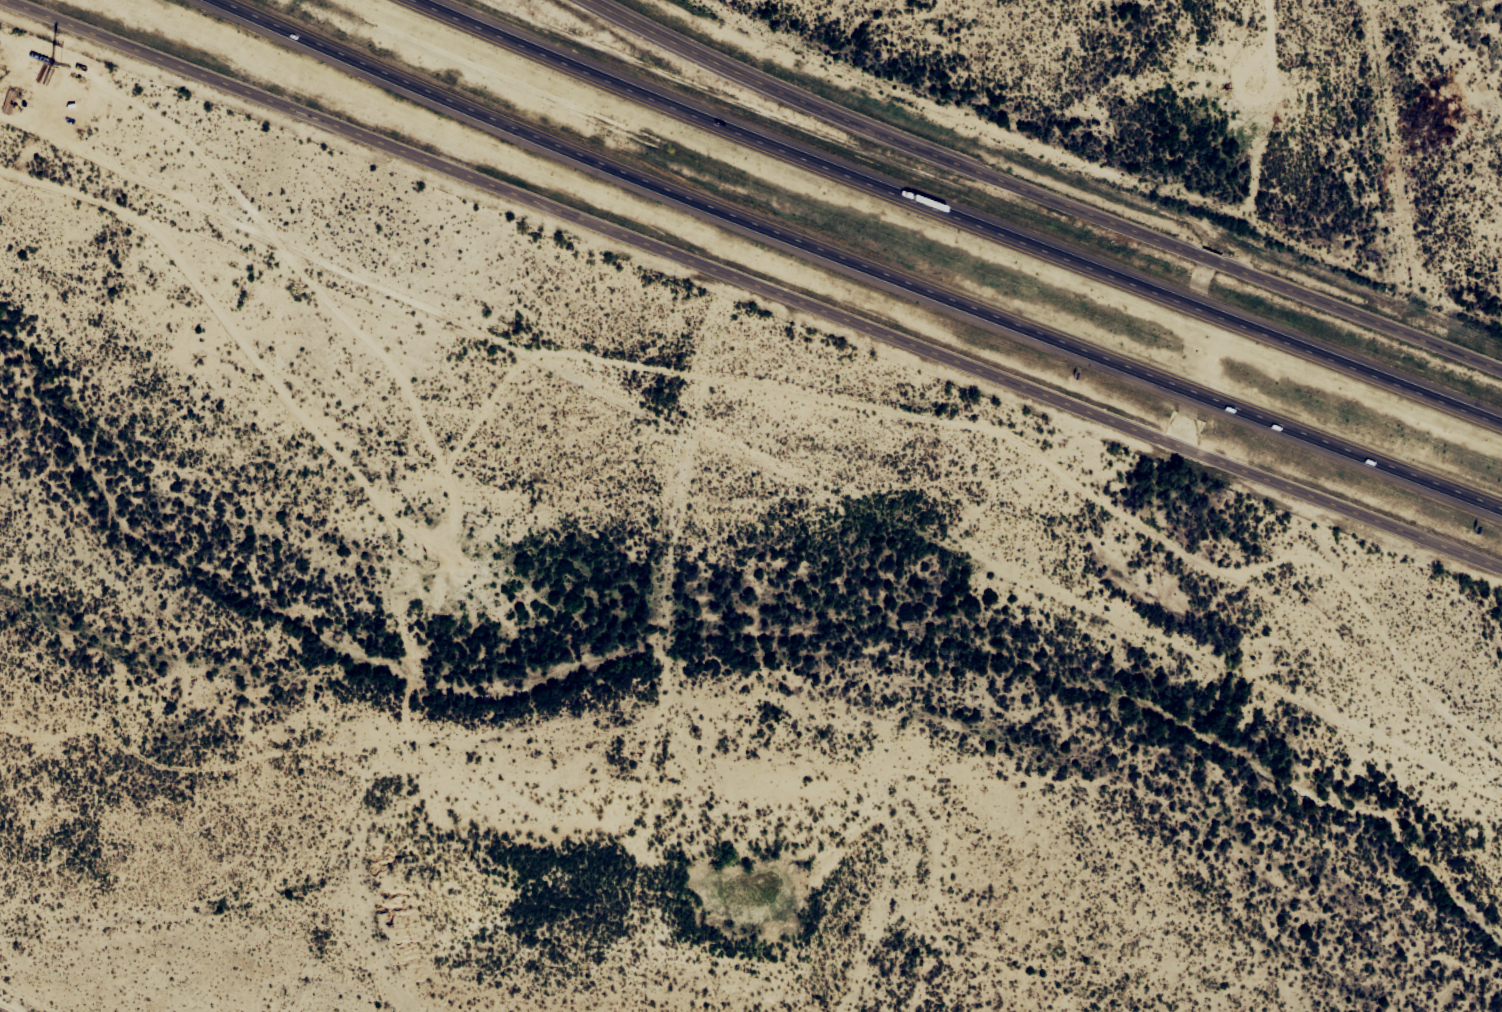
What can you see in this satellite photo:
road: (1044, 193)
road: (970, 212)
road: (864, 253)
road: (757, 282)

